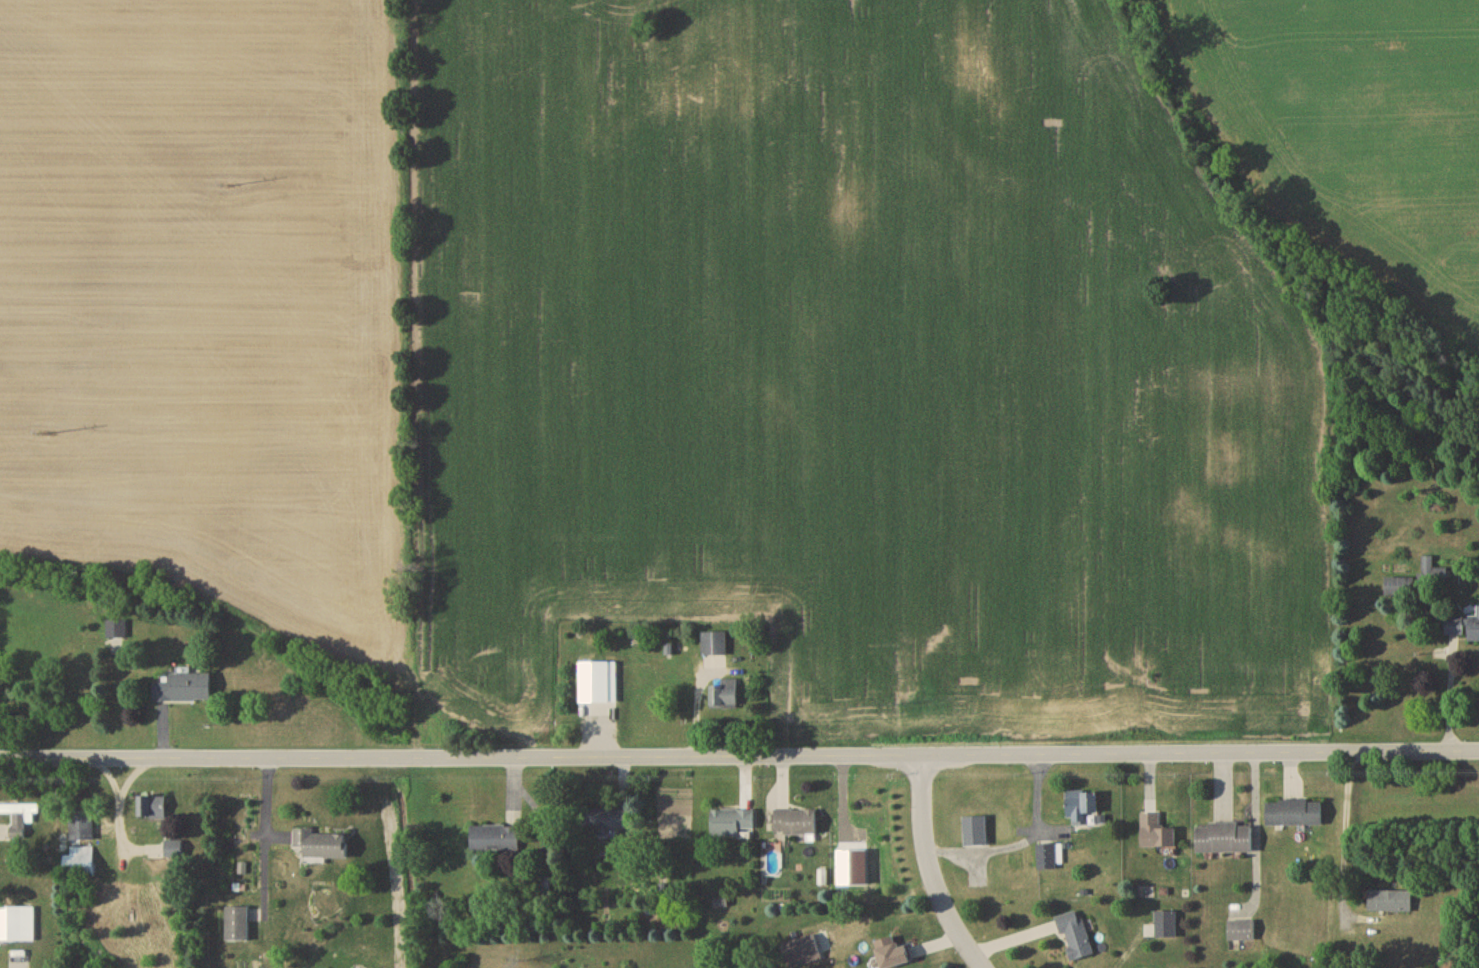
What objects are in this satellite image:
road: (1179, 506)
building: (1433, 576)
building: (1401, 589)
building: (1463, 629)
building: (117, 638)
building: (715, 647)
building: (182, 690)
road: (1453, 696)
building: (725, 697)
road: (739, 758)
building: (1082, 809)
building: (153, 811)
building: (1294, 816)
building: (19, 821)
building: (612, 822)
building: (732, 825)
building: (796, 825)
building: (83, 828)
road: (1345, 832)
building: (976, 834)
building: (1157, 836)
road: (266, 837)
road: (1257, 839)
building: (1224, 841)
building: (496, 842)
road: (1023, 844)
building: (321, 847)
building: (1050, 859)
building: (81, 864)
road: (931, 869)
building: (1391, 904)
building: (237, 926)
building: (17, 927)
building: (1166, 927)
building: (1241, 933)
building: (1076, 938)
building: (802, 954)
building: (893, 955)

